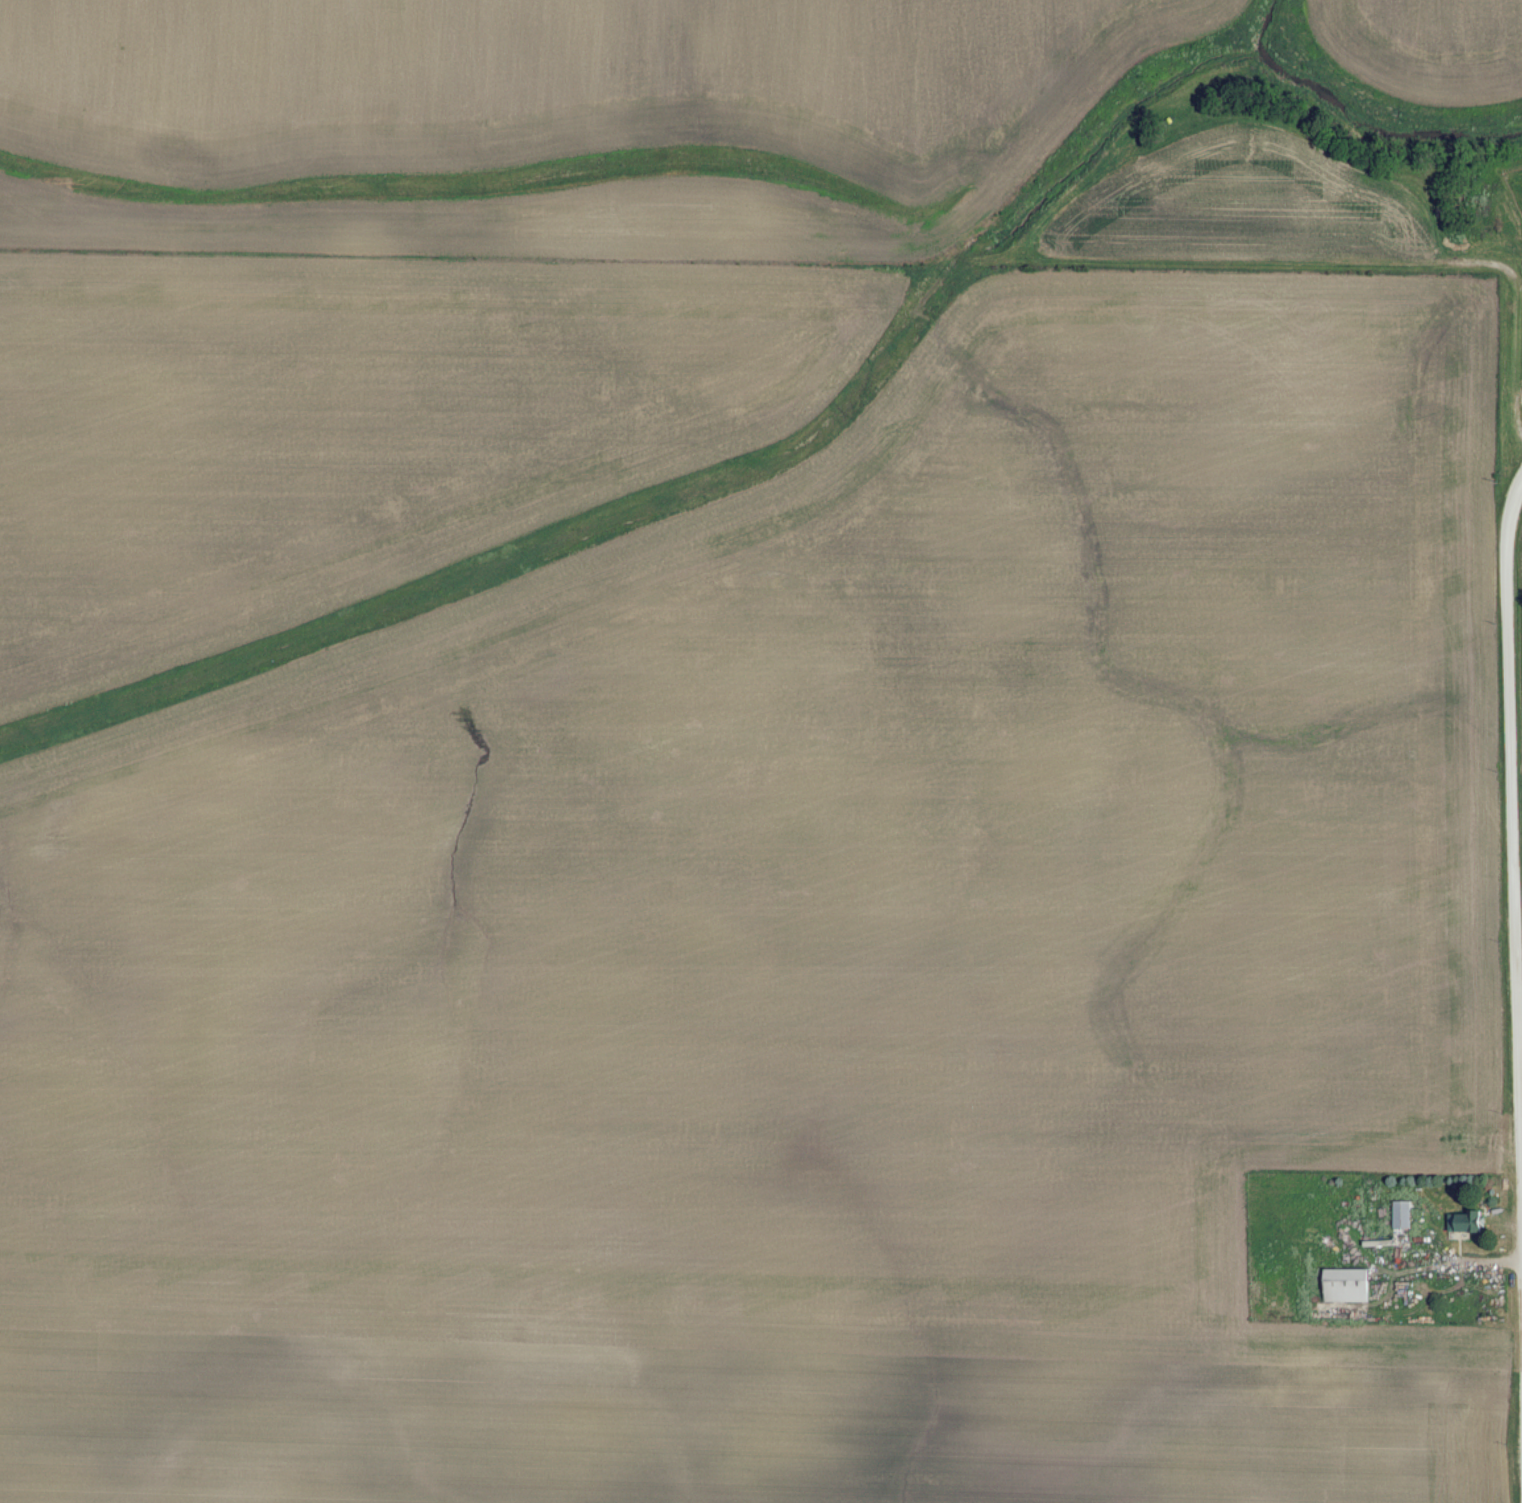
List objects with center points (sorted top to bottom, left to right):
road: (1512, 939)
building: (1405, 1216)
building: (1467, 1223)
road: (1440, 1267)
building: (1351, 1287)

